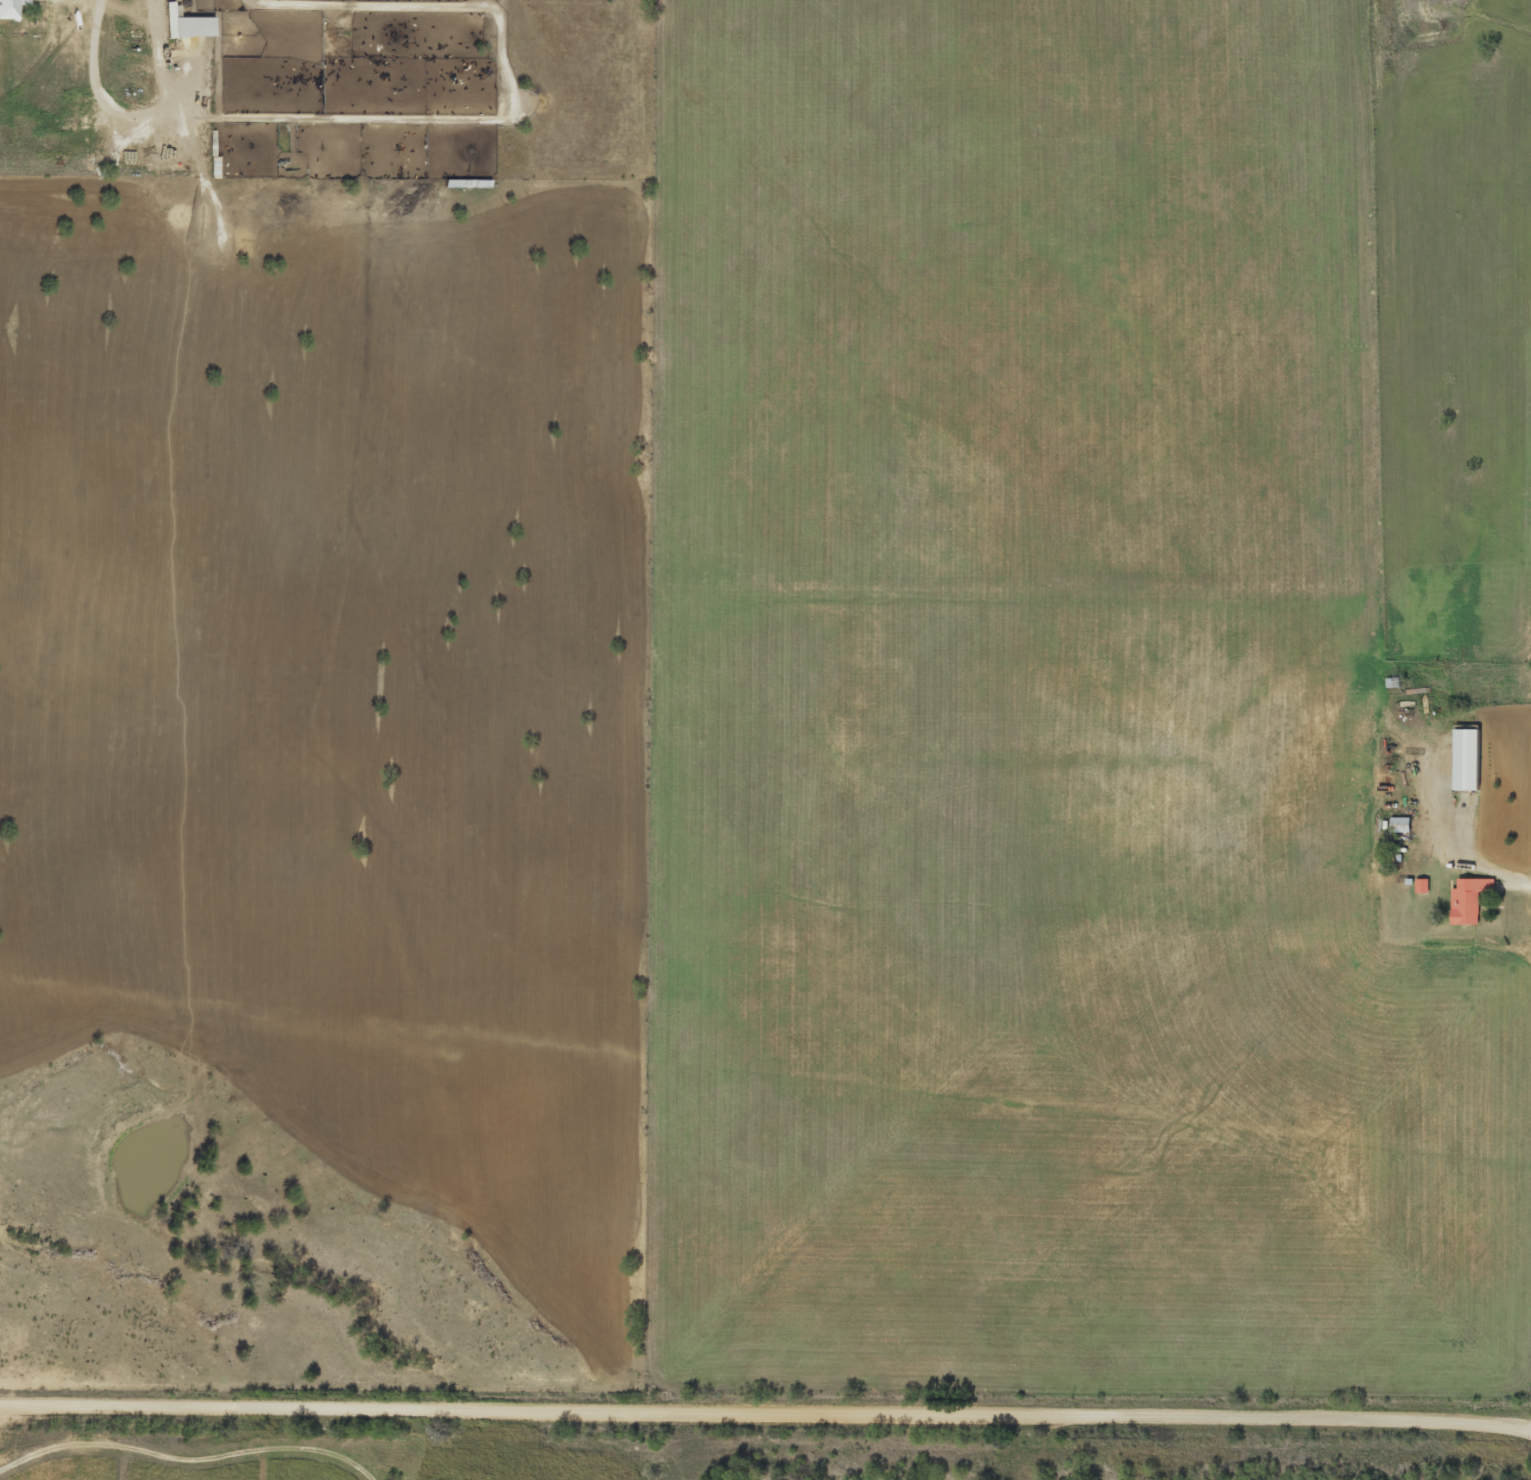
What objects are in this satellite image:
building: (1468, 760)
building: (1399, 825)
building: (1420, 887)
building: (1468, 900)
road: (765, 1419)

